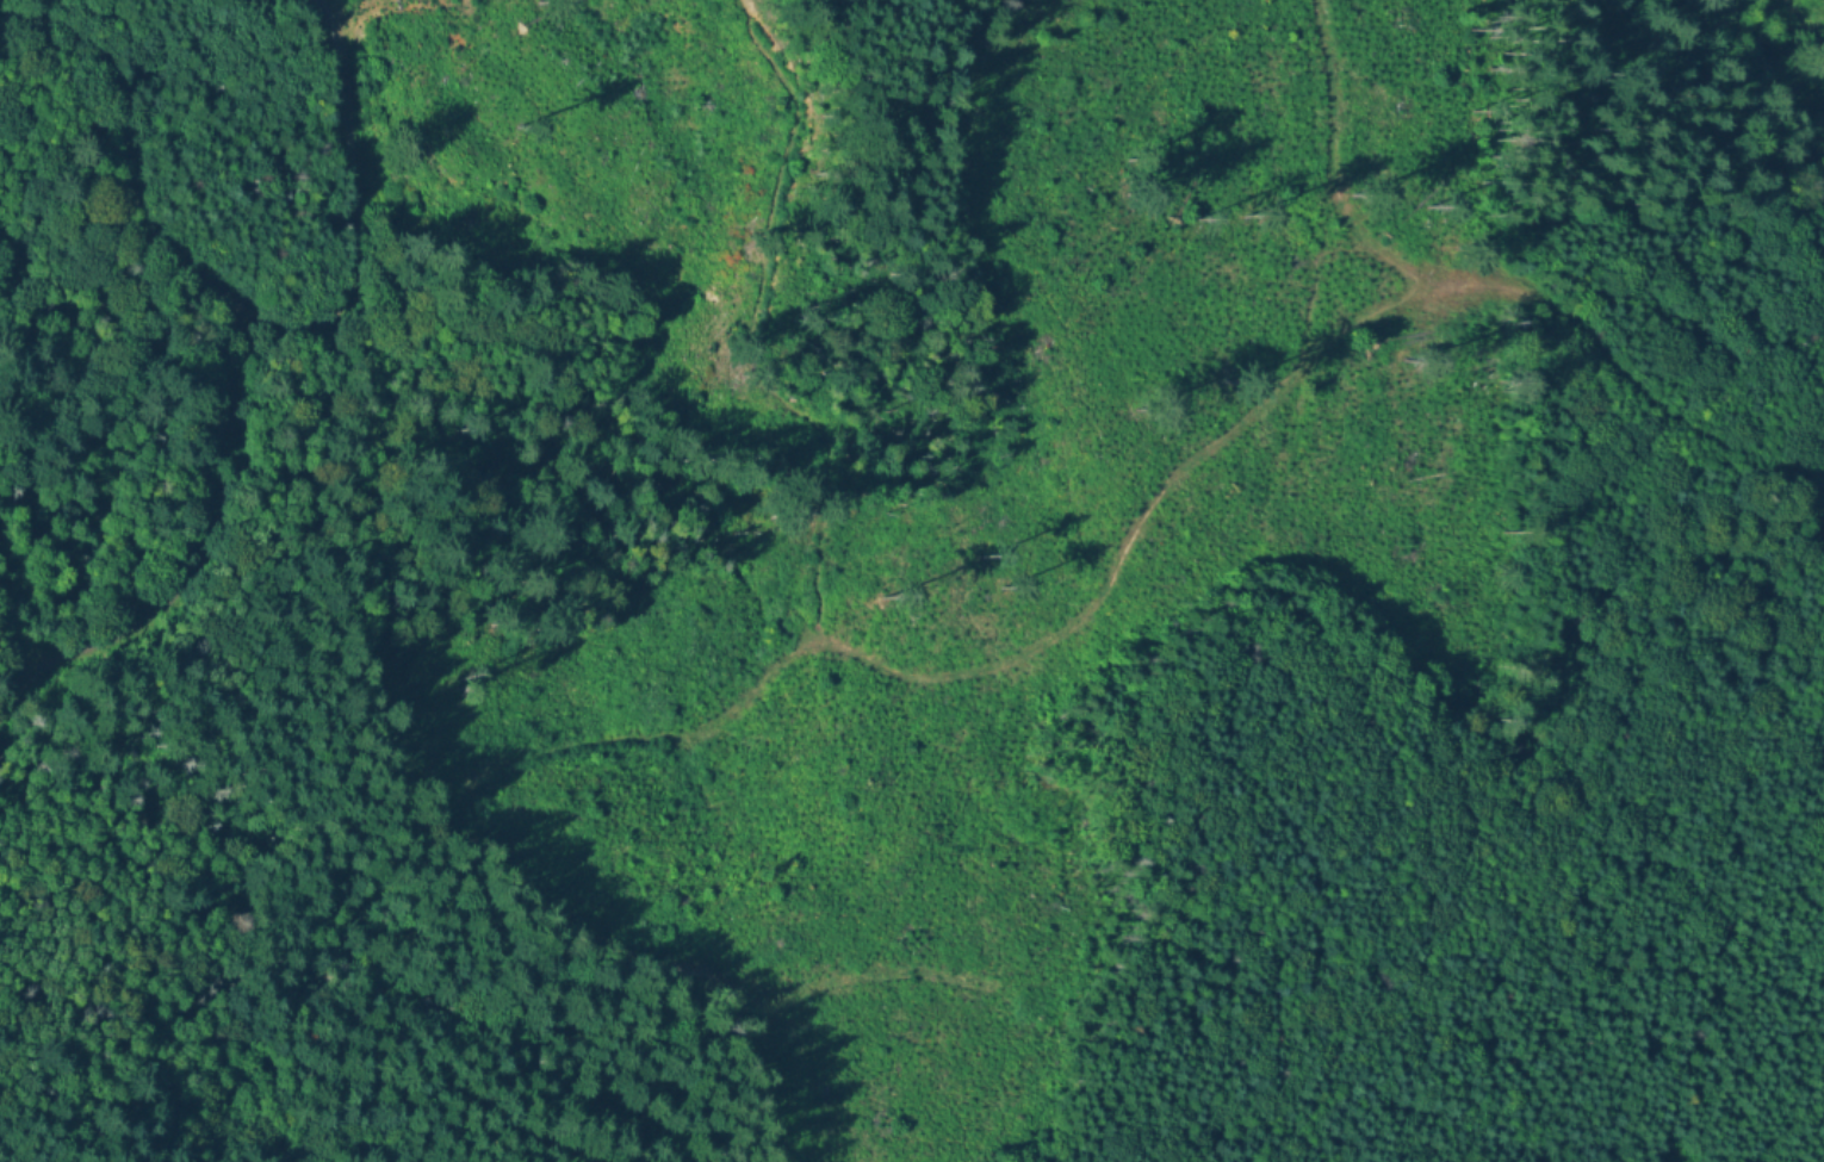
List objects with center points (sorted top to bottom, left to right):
road: (1632, 386)

